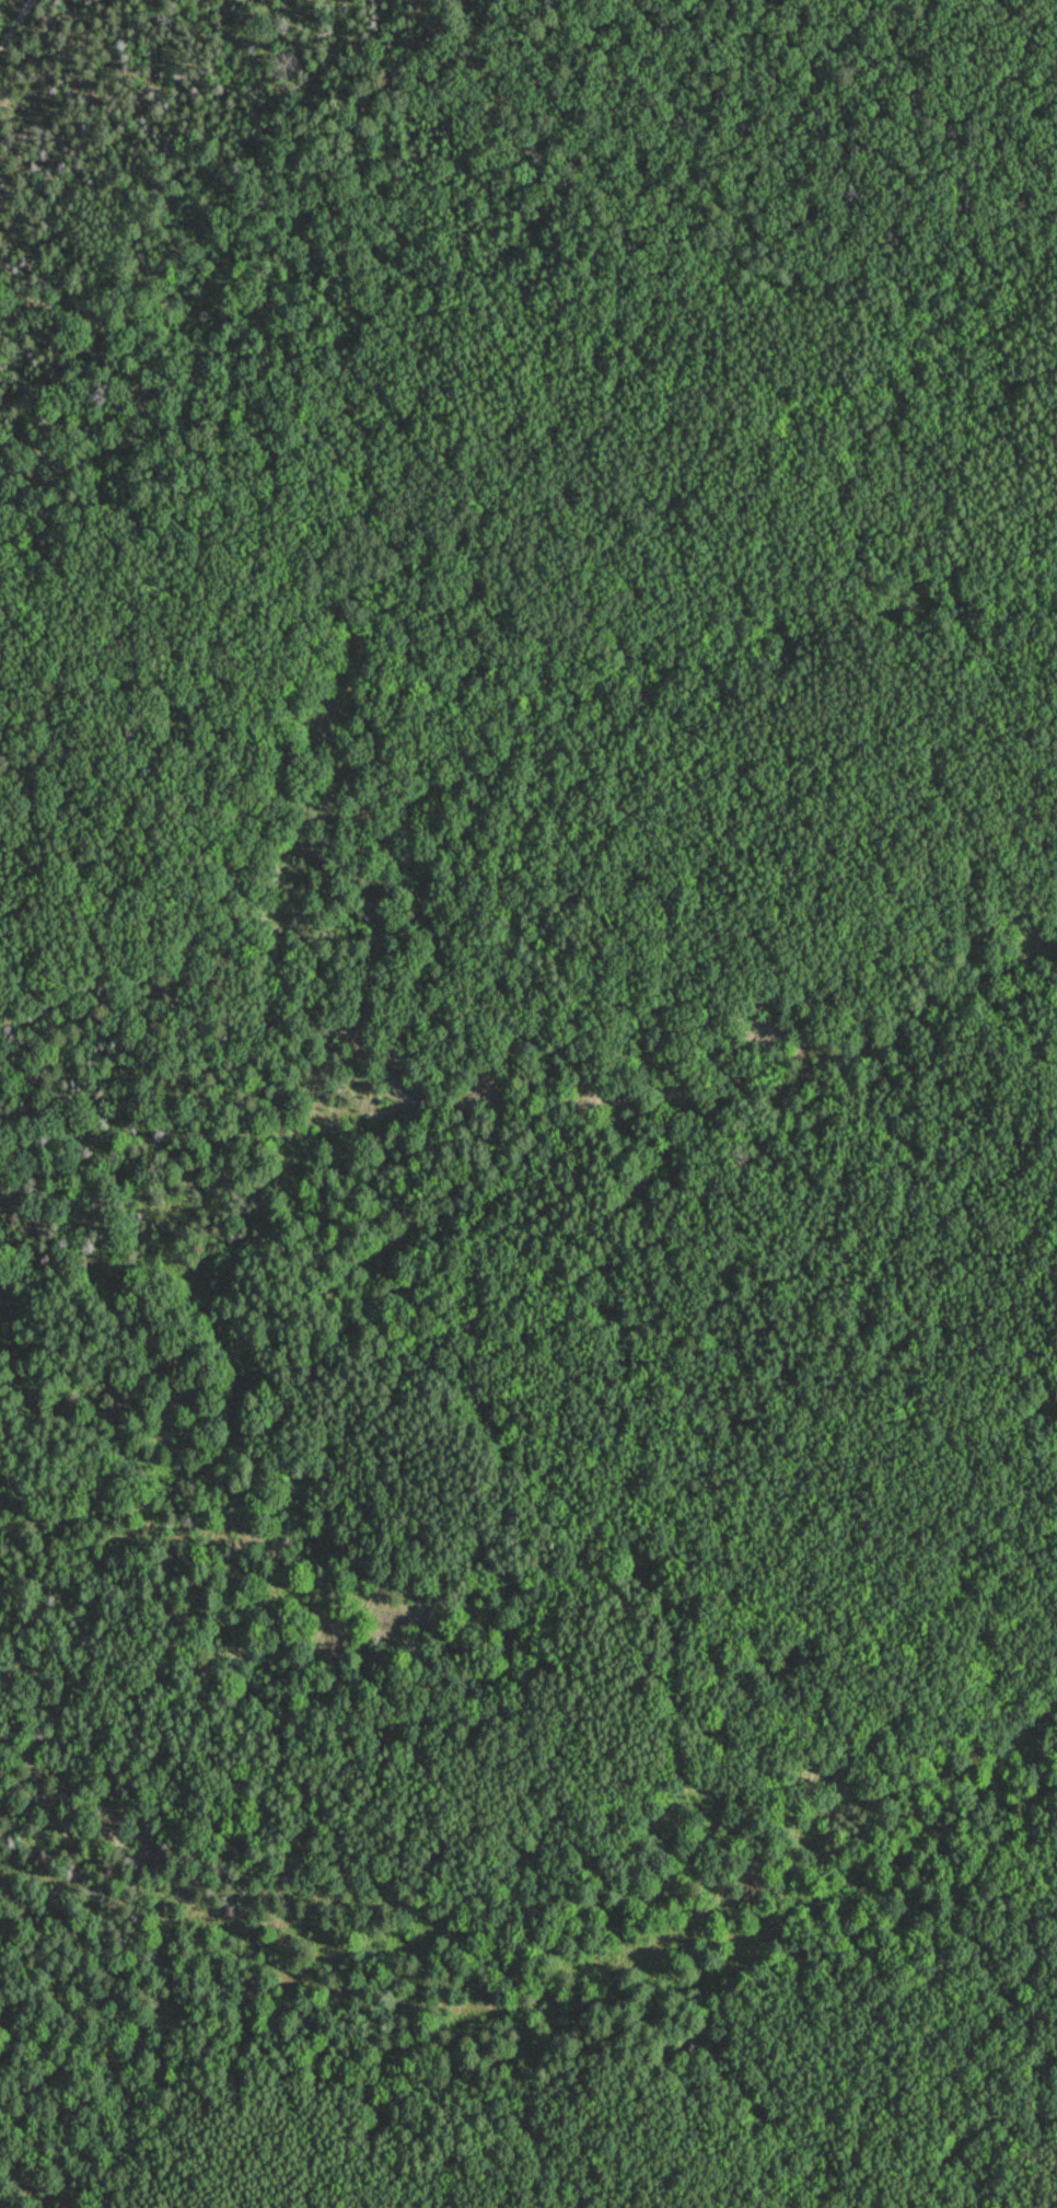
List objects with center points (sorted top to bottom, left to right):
road: (15, 24)
road: (534, 1997)
road: (242, 2082)

